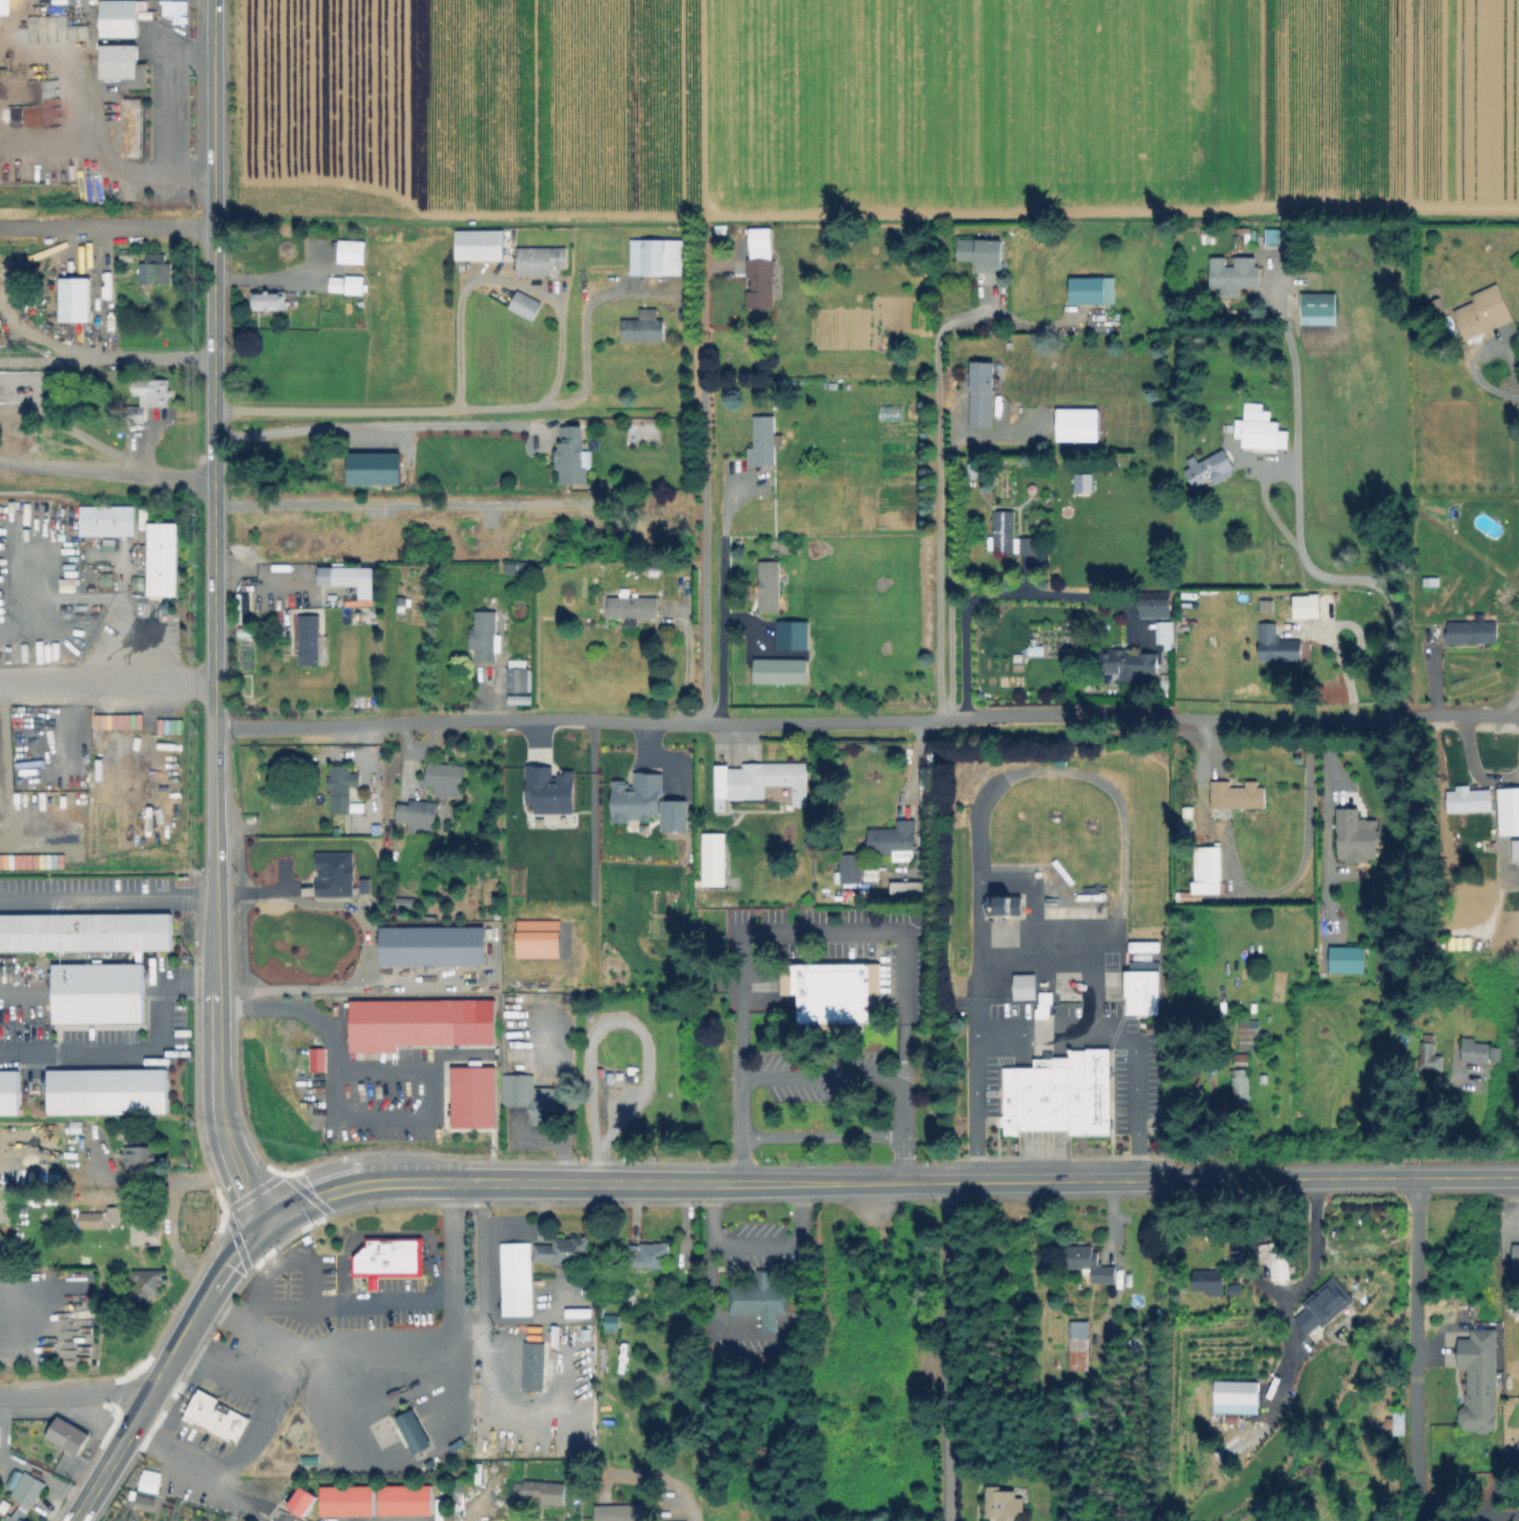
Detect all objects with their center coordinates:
building: (3, 7)
building: (116, 18)
building: (120, 64)
road: (168, 111)
road: (866, 215)
road: (108, 227)
building: (1243, 235)
building: (1209, 239)
building: (1280, 240)
building: (481, 245)
building: (352, 252)
building: (982, 253)
building: (659, 258)
building: (541, 261)
building: (153, 269)
building: (761, 270)
building: (1233, 275)
road: (264, 279)
building: (336, 284)
building: (355, 285)
road: (504, 285)
building: (1093, 292)
building: (72, 298)
building: (270, 299)
building: (526, 306)
building: (1319, 311)
building: (1484, 313)
building: (643, 330)
road: (107, 360)
road: (216, 364)
building: (153, 392)
building: (983, 396)
building: (1003, 409)
road: (471, 411)
building: (1078, 425)
road: (377, 429)
building: (1261, 430)
building: (765, 443)
building: (570, 444)
building: (373, 468)
building: (1210, 470)
road: (107, 472)
building: (1081, 482)
road: (938, 489)
road: (706, 494)
road: (1268, 509)
building: (106, 520)
building: (651, 527)
road: (1297, 534)
building: (1010, 538)
building: (161, 558)
road: (951, 558)
building: (346, 577)
building: (1433, 581)
building: (770, 586)
road: (1005, 594)
road: (722, 603)
building: (1264, 605)
building: (634, 607)
building: (1156, 607)
building: (1308, 608)
building: (1284, 611)
building: (1473, 633)
building: (1166, 635)
building: (487, 637)
building: (310, 640)
building: (1279, 647)
building: (1037, 652)
building: (1128, 664)
building: (781, 672)
building: (517, 676)
road: (108, 679)
road: (1432, 685)
building: (521, 701)
road: (1506, 717)
road: (871, 721)
road: (1474, 766)
building: (446, 775)
building: (760, 780)
building: (343, 789)
building: (548, 789)
building: (1239, 794)
road: (217, 799)
building: (1467, 799)
building: (645, 801)
building: (1507, 810)
building: (423, 812)
building: (639, 825)
building: (1351, 839)
building: (894, 841)
building: (715, 860)
road: (1303, 861)
building: (851, 871)
building: (1206, 875)
building: (347, 884)
road: (109, 898)
building: (407, 902)
building: (1005, 906)
road: (824, 929)
building: (84, 934)
road: (218, 934)
building: (536, 940)
building: (431, 945)
building: (1146, 947)
building: (1349, 960)
building: (1026, 987)
road: (333, 989)
building: (1143, 989)
building: (95, 995)
building: (830, 995)
building: (1044, 1006)
road: (608, 1021)
road: (1050, 1027)
building: (417, 1031)
building: (1248, 1035)
road: (135, 1050)
building: (1480, 1052)
building: (1430, 1055)
building: (316, 1058)
building: (1241, 1059)
road: (819, 1073)
building: (1241, 1087)
building: (9, 1094)
building: (105, 1094)
building: (1058, 1094)
building: (471, 1096)
building: (530, 1097)
parking lot: (410, 1099)
road: (898, 1106)
road: (743, 1108)
road: (219, 1117)
road: (346, 1120)
building: (75, 1128)
road: (821, 1135)
road: (899, 1157)
building: (140, 1158)
road: (743, 1160)
road: (1131, 1180)
road: (540, 1182)
road: (159, 1183)
road: (734, 1183)
road: (253, 1190)
road: (297, 1196)
road: (310, 1200)
building: (114, 1216)
building: (91, 1221)
traffic signals: (270, 1224)
road: (243, 1232)
building: (146, 1234)
road: (756, 1240)
building: (559, 1244)
road: (169, 1245)
road: (457, 1249)
building: (645, 1249)
road: (204, 1257)
building: (1516, 1257)
building: (390, 1258)
building: (1091, 1265)
building: (1277, 1266)
building: (511, 1274)
building: (1206, 1284)
building: (143, 1285)
building: (763, 1301)
road: (347, 1303)
building: (1319, 1317)
road: (169, 1318)
building: (610, 1321)
road: (213, 1326)
road: (387, 1345)
building: (1080, 1346)
road: (1417, 1349)
road: (949, 1351)
road: (148, 1355)
building: (531, 1359)
road: (168, 1368)
building: (1478, 1378)
road: (127, 1382)
road: (76, 1394)
building: (1234, 1399)
road: (478, 1406)
road: (266, 1416)
building: (218, 1418)
building: (1396, 1422)
building: (415, 1432)
building: (69, 1437)
road: (122, 1473)
building: (146, 1485)
building: (24, 1490)
building: (536, 1493)
road: (682, 1499)
building: (406, 1501)
building: (348, 1502)
building: (298, 1504)
building: (1005, 1504)
road: (100, 1509)
building: (620, 1513)
road: (1470, 1513)
building: (17, 1516)

